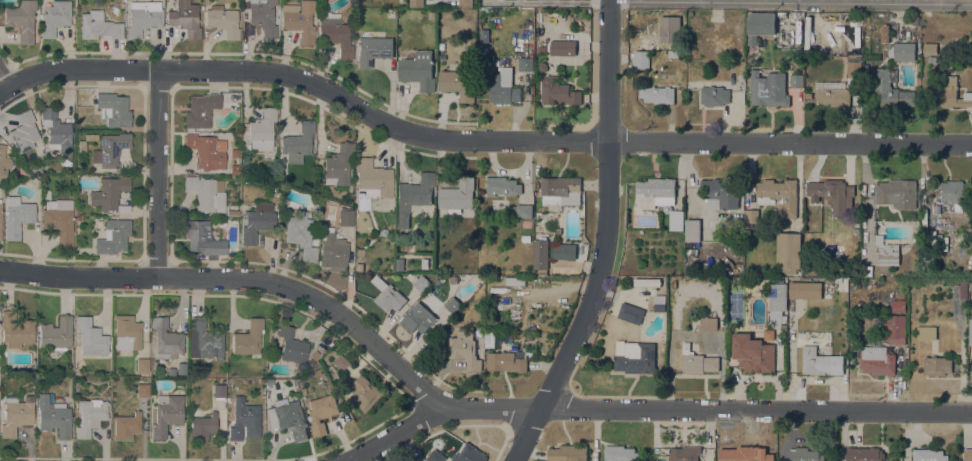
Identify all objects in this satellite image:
road: (782, 0)
road: (942, 1)
building: (416, 3)
building: (464, 3)
building: (431, 15)
building: (263, 16)
building: (855, 16)
building: (55, 17)
building: (143, 17)
building: (185, 18)
building: (21, 19)
building: (299, 20)
building: (223, 21)
building: (760, 25)
building: (98, 26)
building: (335, 33)
building: (885, 33)
building: (484, 35)
building: (787, 39)
building: (760, 42)
building: (563, 47)
building: (540, 48)
building: (930, 48)
building: (484, 49)
building: (373, 50)
building: (901, 51)
road: (238, 52)
building: (442, 56)
building: (932, 58)
building: (642, 60)
building: (524, 63)
building: (854, 65)
building: (418, 70)
building: (796, 80)
road: (8, 82)
building: (458, 82)
building: (503, 87)
building: (768, 88)
building: (891, 89)
building: (558, 91)
building: (832, 93)
building: (656, 94)
building: (949, 94)
building: (714, 95)
building: (113, 109)
building: (200, 110)
building: (56, 130)
building: (262, 130)
building: (24, 132)
building: (91, 137)
building: (298, 142)
road: (482, 142)
building: (82, 146)
building: (110, 149)
building: (207, 150)
building: (3, 163)
building: (338, 164)
building: (42, 170)
road: (161, 174)
building: (371, 181)
building: (502, 186)
building: (560, 190)
building: (206, 192)
building: (896, 192)
building: (952, 192)
building: (110, 193)
building: (654, 193)
building: (721, 193)
building: (830, 193)
building: (48, 194)
building: (457, 195)
building: (780, 195)
building: (413, 196)
building: (936, 208)
building: (524, 210)
building: (78, 212)
building: (232, 213)
building: (17, 216)
building: (346, 217)
building: (674, 217)
building: (751, 217)
building: (0, 218)
building: (78, 218)
building: (59, 219)
building: (257, 221)
building: (317, 222)
building: (526, 223)
building: (222, 224)
building: (557, 230)
building: (692, 230)
road: (588, 234)
building: (113, 236)
building: (300, 236)
building: (203, 238)
building: (332, 250)
building: (563, 250)
building: (359, 251)
building: (788, 251)
building: (887, 253)
building: (540, 255)
building: (424, 263)
building: (399, 264)
building: (359, 266)
road: (244, 279)
building: (452, 279)
building: (710, 279)
building: (514, 280)
building: (420, 282)
building: (646, 282)
building: (805, 288)
building: (963, 289)
building: (900, 294)
building: (388, 295)
building: (719, 296)
building: (777, 301)
building: (659, 302)
building: (452, 305)
building: (898, 305)
building: (631, 313)
building: (418, 319)
building: (708, 323)
building: (896, 328)
building: (16, 329)
building: (127, 332)
building: (926, 332)
building: (970, 332)
building: (56, 333)
building: (768, 334)
building: (91, 337)
building: (248, 338)
building: (492, 338)
building: (166, 339)
building: (207, 339)
building: (274, 346)
building: (292, 346)
building: (464, 347)
building: (752, 352)
building: (634, 356)
building: (313, 357)
building: (877, 360)
building: (505, 361)
building: (697, 361)
building: (340, 362)
building: (821, 362)
building: (142, 364)
building: (153, 365)
building: (936, 365)
building: (181, 368)
building: (161, 371)
building: (142, 390)
building: (219, 390)
building: (302, 391)
building: (364, 392)
road: (656, 410)
building: (323, 411)
building: (166, 413)
building: (16, 414)
building: (54, 416)
building: (90, 416)
building: (287, 417)
building: (244, 419)
building: (127, 426)
building: (203, 426)
building: (568, 453)
building: (620, 453)
building: (684, 453)
building: (469, 454)
building: (744, 454)
building: (806, 454)
building: (864, 454)
building: (967, 454)
building: (928, 455)
building: (434, 456)

